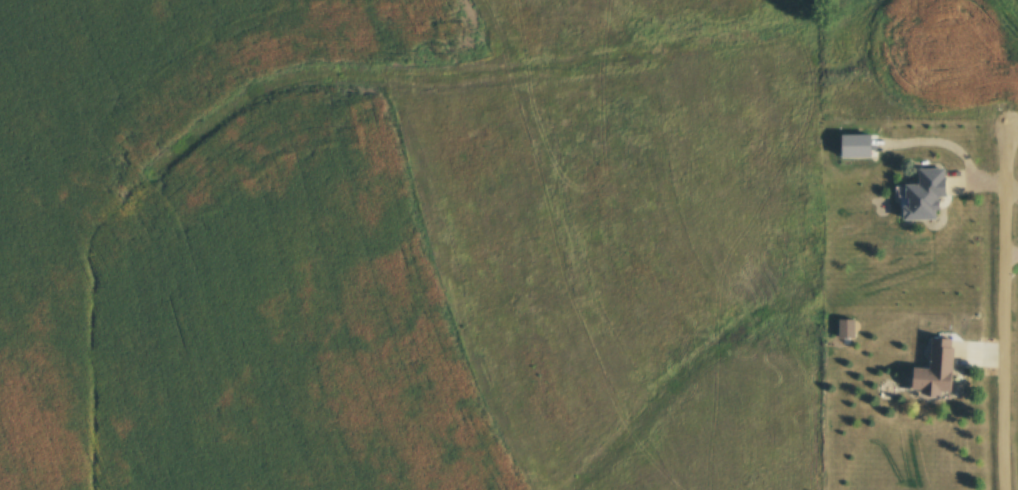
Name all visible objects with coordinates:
building: (931, 194)
road: (1006, 333)
building: (942, 369)

